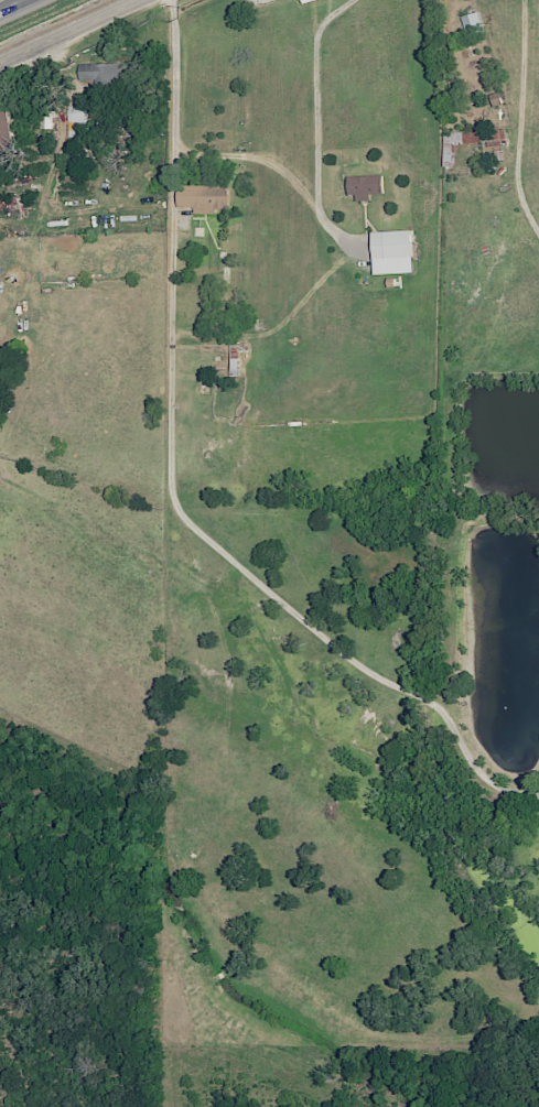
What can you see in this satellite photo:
building: (303, 1)
road: (14, 7)
road: (73, 32)
building: (100, 76)
road: (315, 119)
building: (46, 120)
road: (519, 121)
building: (3, 127)
building: (446, 154)
building: (363, 186)
building: (201, 198)
building: (388, 252)
building: (229, 358)
road: (170, 492)

